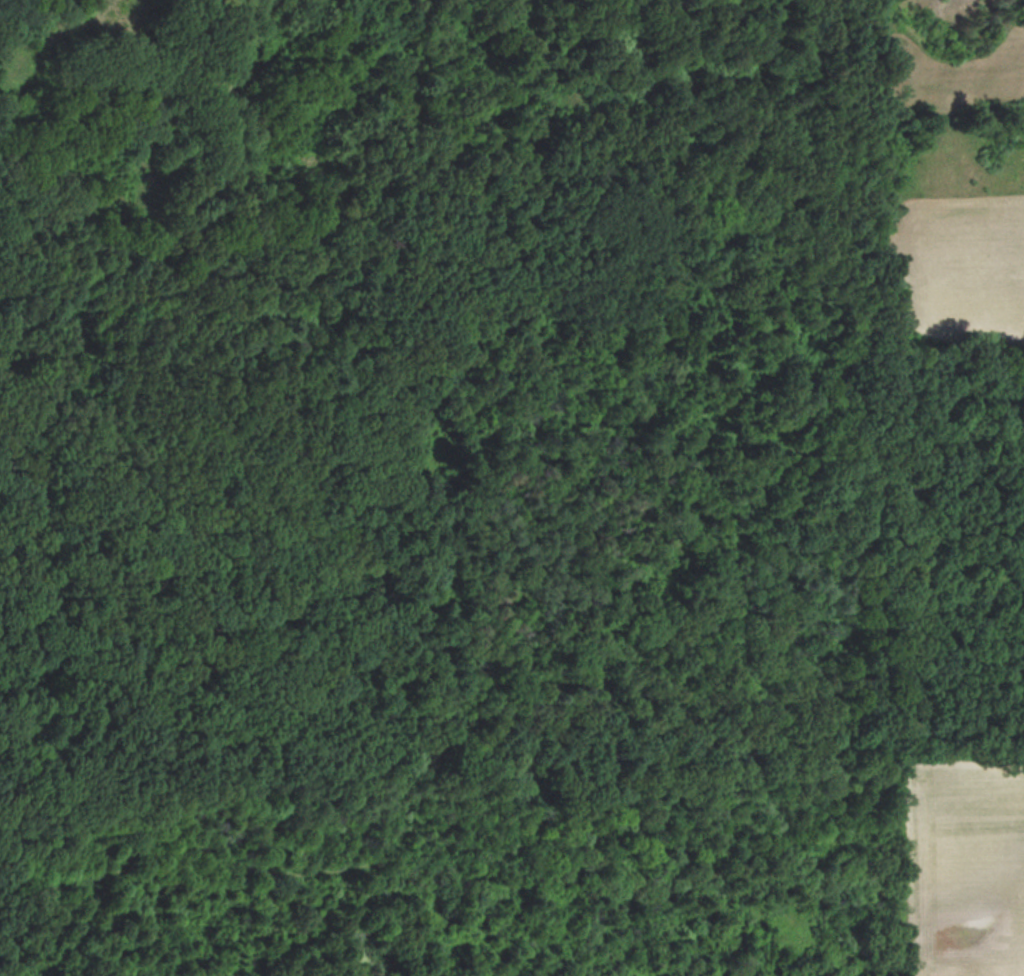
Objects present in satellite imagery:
park: (486, 490)
road: (871, 625)
road: (458, 796)
road: (877, 797)

